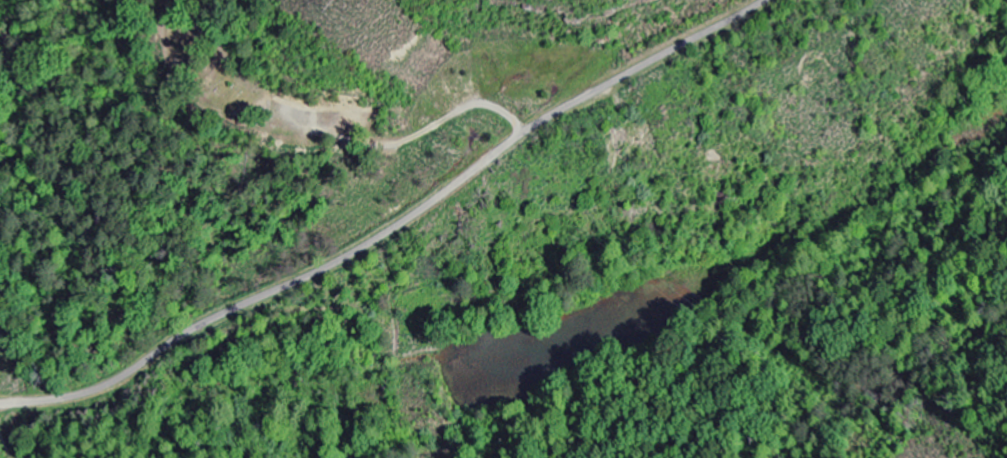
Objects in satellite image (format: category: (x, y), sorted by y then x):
power tower: (343, 3)
road: (681, 44)
road: (309, 273)

